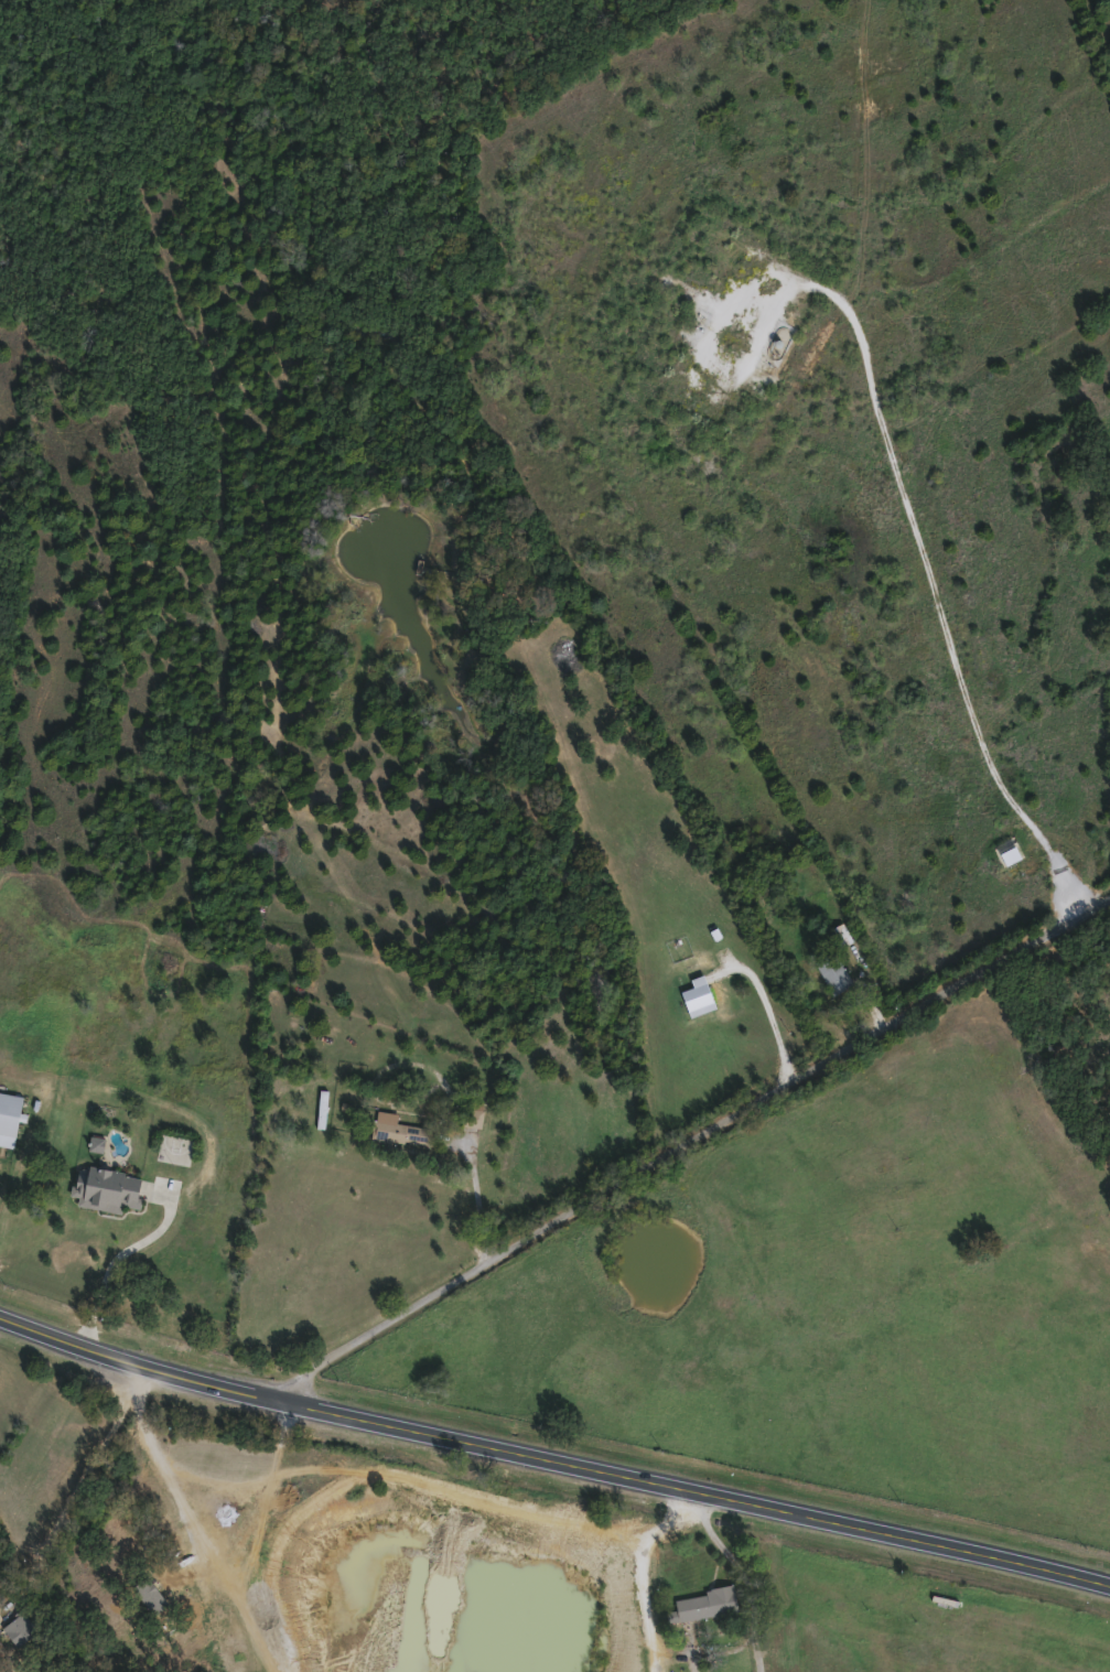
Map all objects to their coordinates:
road: (924, 563)
building: (841, 935)
building: (834, 972)
road: (774, 1013)
building: (322, 1108)
building: (10, 1112)
building: (298, 1117)
building: (471, 1117)
building: (398, 1129)
road: (690, 1143)
building: (110, 1188)
road: (9, 1199)
road: (482, 1200)
road: (116, 1261)
road: (552, 1458)
road: (168, 1474)
road: (75, 1487)
road: (643, 1571)
road: (739, 1579)
building: (708, 1604)
building: (21, 1628)

